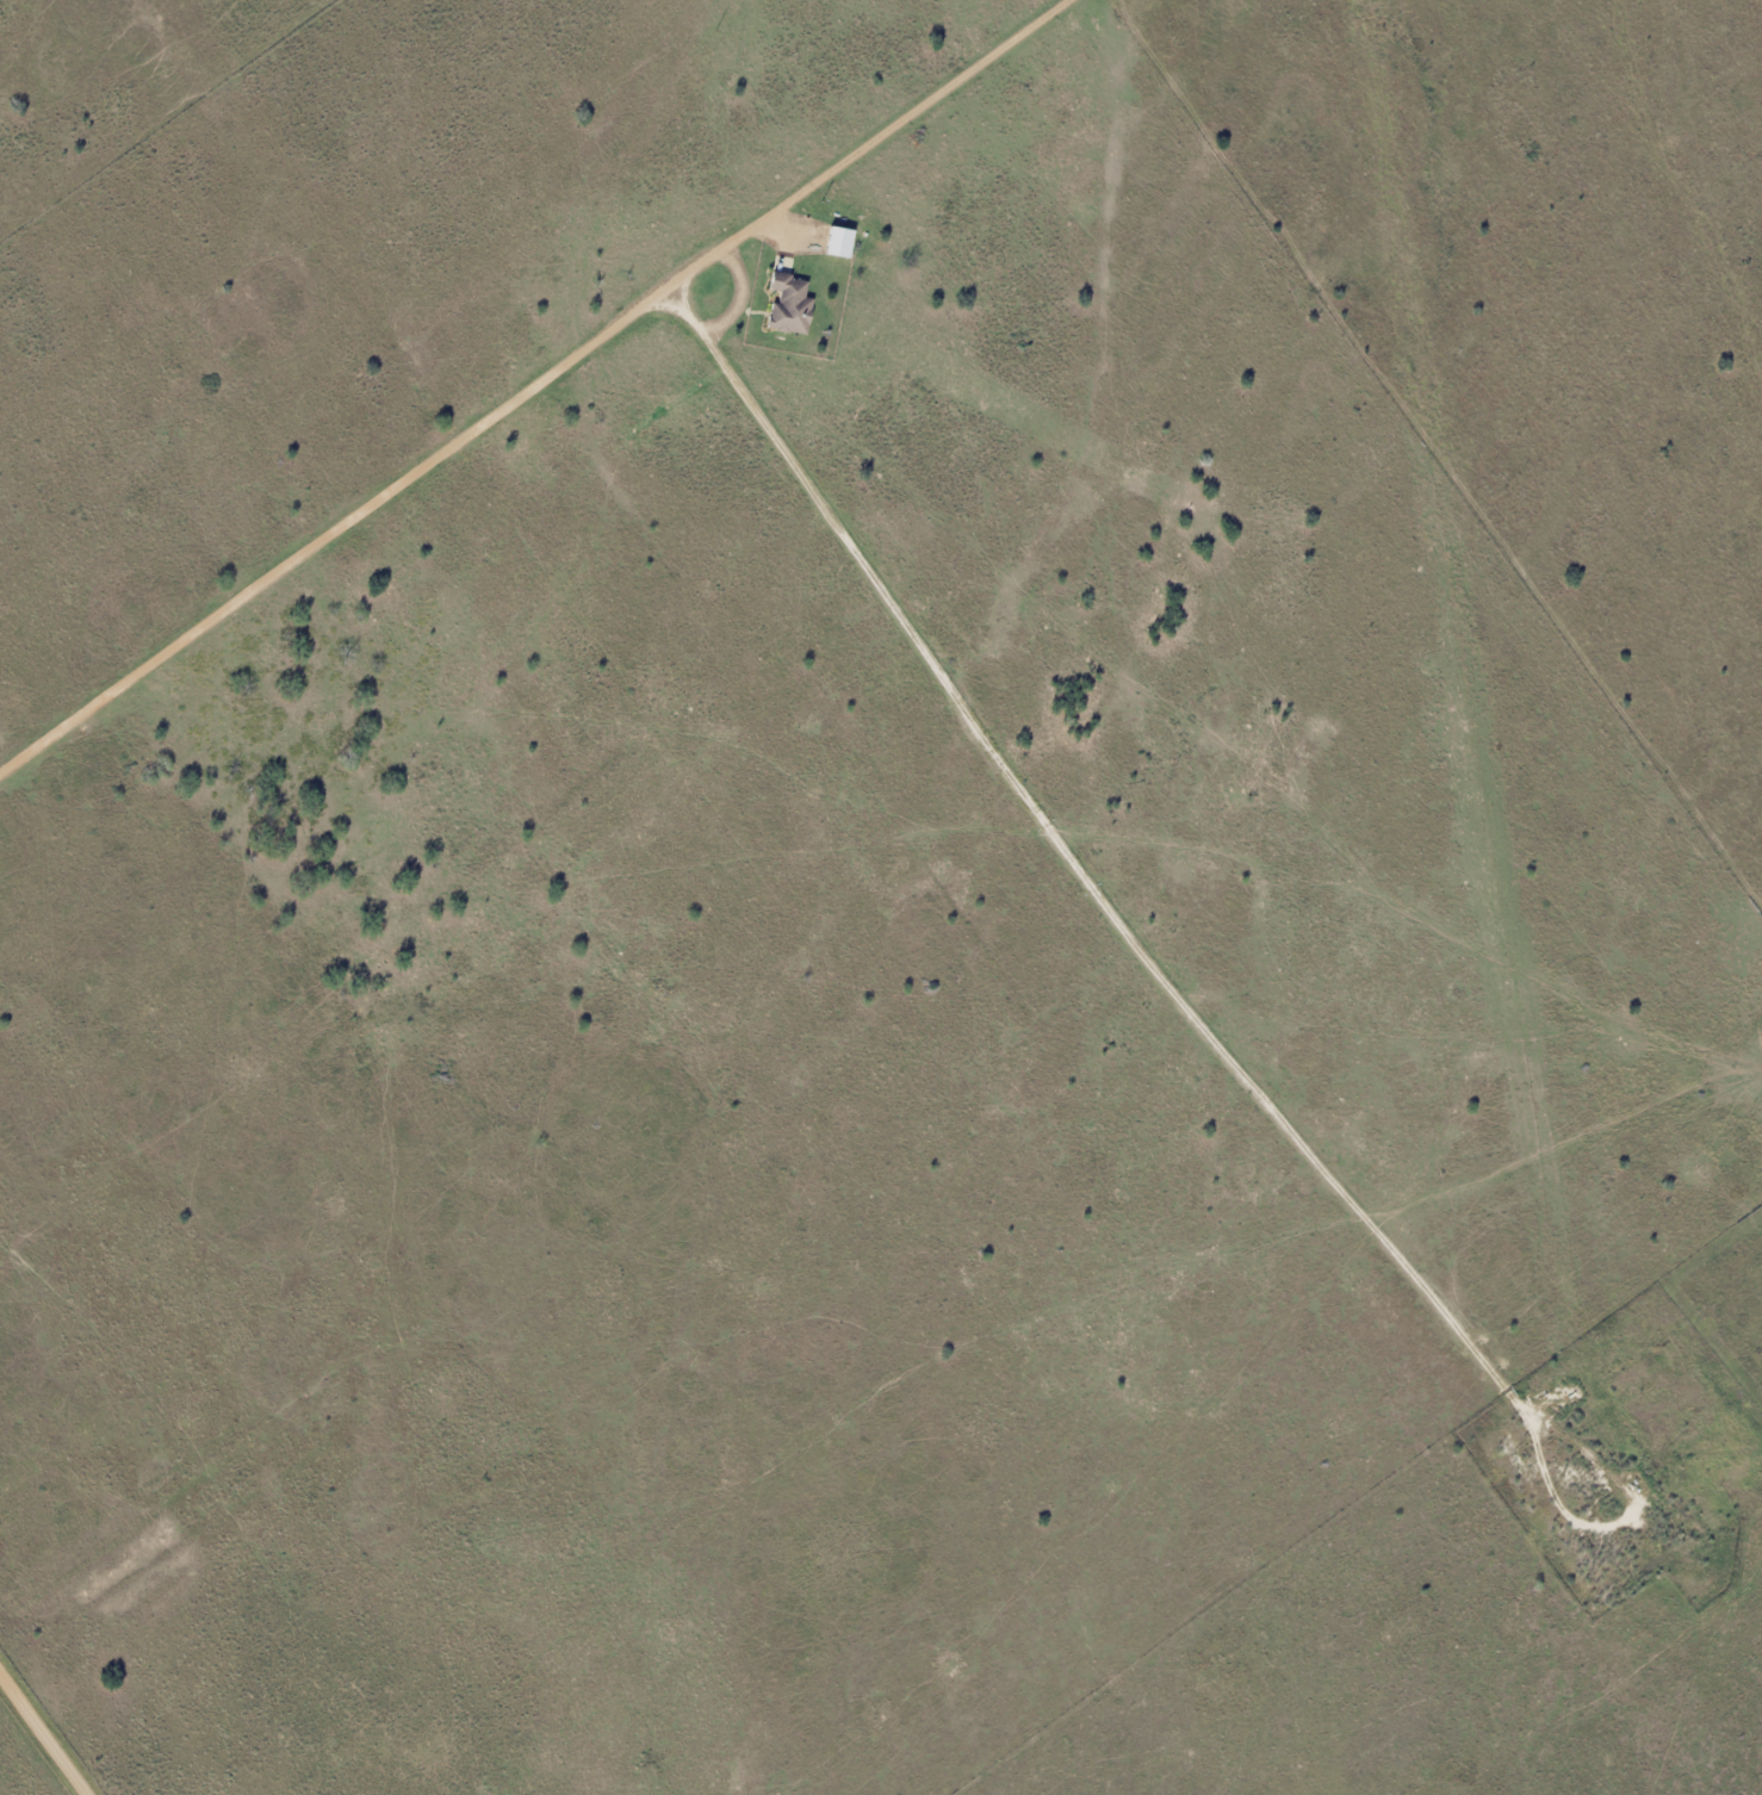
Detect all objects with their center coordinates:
building: (844, 241)
road: (585, 420)
road: (46, 1727)

